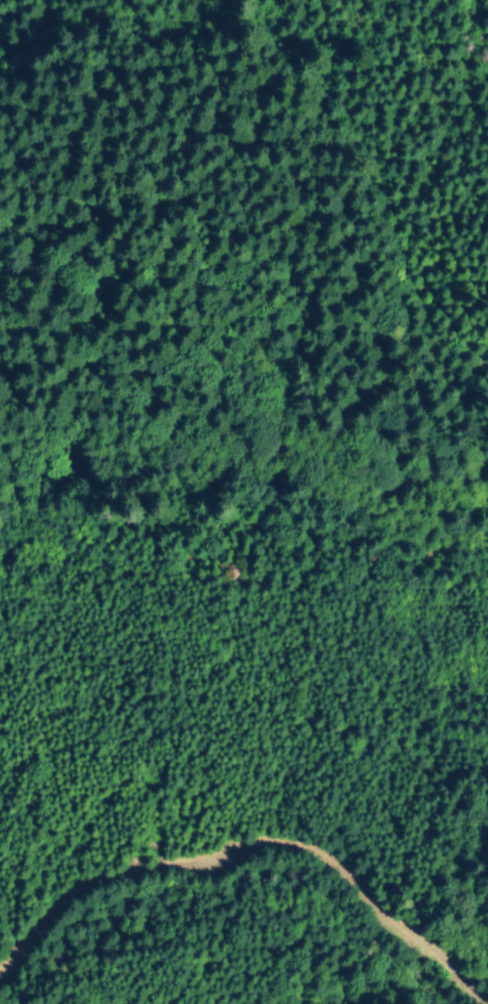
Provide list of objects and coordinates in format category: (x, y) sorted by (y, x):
road: (251, 850)

